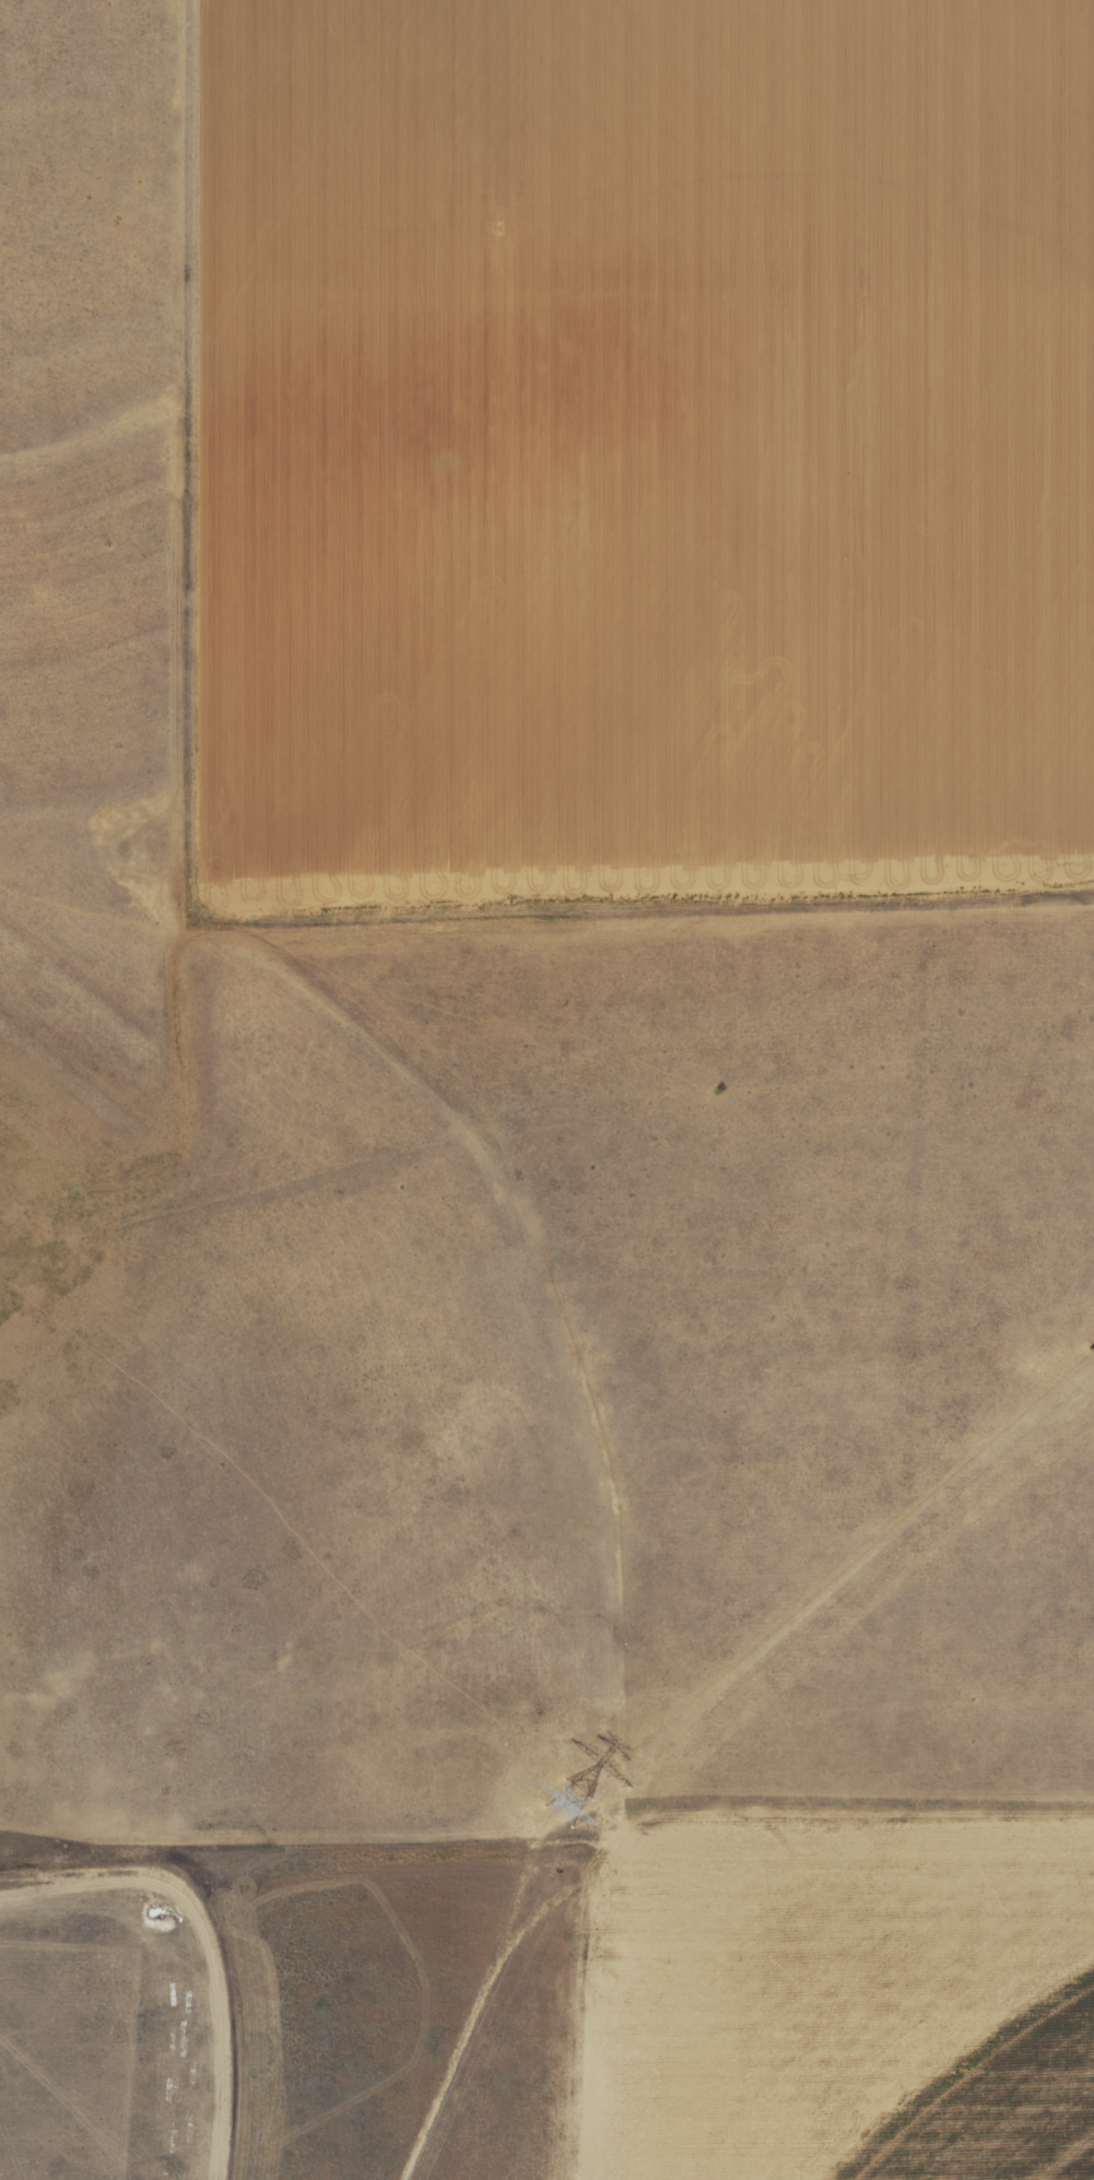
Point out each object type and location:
power tower: (1086, 1351)
power tower: (566, 1800)

